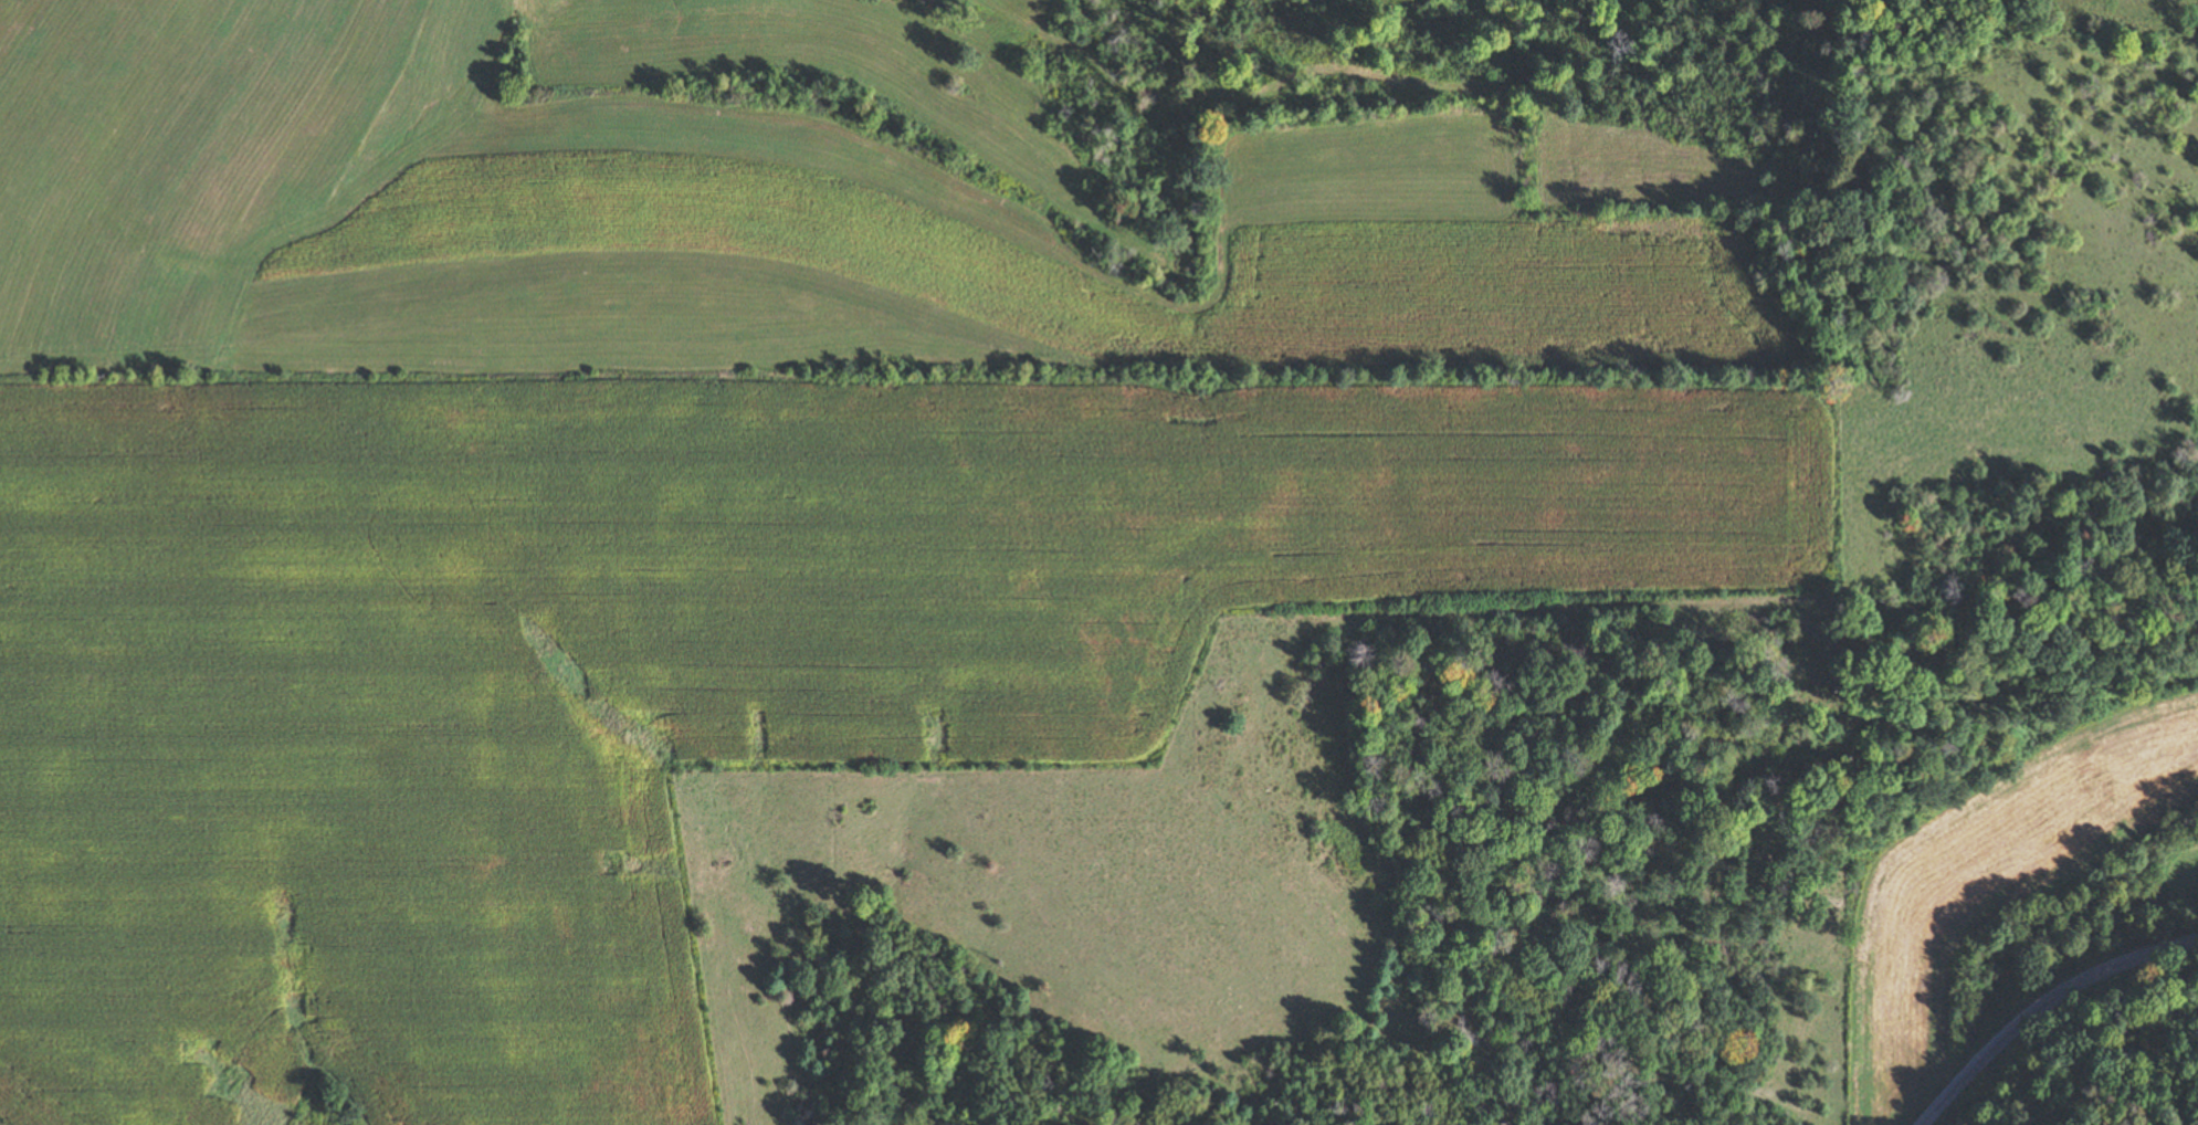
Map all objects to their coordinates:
crop: (1554, 2)
crop: (1116, 64)
crop: (60, 102)
crop: (545, 222)
crop: (1456, 262)
crop: (764, 709)
crop: (1984, 896)
road: (2042, 1000)

